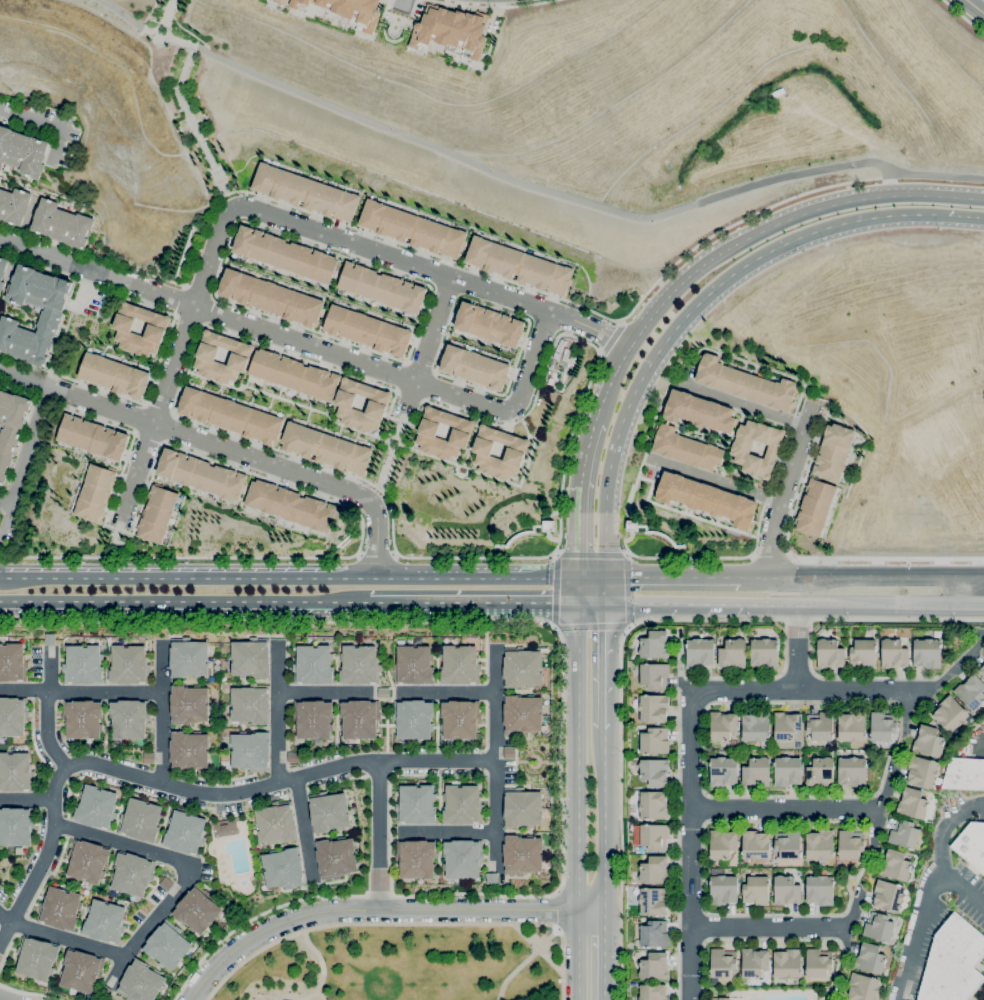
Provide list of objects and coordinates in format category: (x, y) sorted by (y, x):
building: (280, 1)
building: (298, 3)
road: (977, 6)
road: (494, 7)
road: (400, 8)
building: (355, 11)
road: (962, 16)
road: (127, 18)
road: (401, 18)
road: (161, 29)
building: (452, 30)
park: (392, 33)
road: (175, 39)
road: (190, 51)
park: (188, 94)
road: (178, 96)
road: (3, 117)
road: (47, 124)
building: (4, 139)
building: (12, 148)
building: (37, 148)
building: (21, 151)
building: (1, 163)
building: (32, 167)
road: (933, 174)
road: (530, 185)
road: (888, 185)
building: (1, 192)
building: (306, 192)
building: (20, 199)
road: (283, 203)
building: (4, 204)
road: (245, 207)
building: (47, 208)
road: (912, 213)
road: (954, 214)
building: (15, 215)
road: (225, 216)
road: (743, 219)
road: (856, 220)
road: (783, 221)
building: (41, 224)
building: (57, 224)
building: (67, 228)
building: (413, 229)
building: (80, 231)
building: (285, 255)
building: (519, 265)
building: (3, 267)
road: (432, 269)
building: (24, 276)
building: (2, 284)
building: (35, 288)
building: (382, 288)
building: (45, 291)
building: (17, 293)
building: (59, 293)
building: (272, 298)
building: (51, 315)
road: (255, 325)
building: (489, 325)
building: (8, 326)
road: (433, 327)
building: (46, 328)
building: (156, 329)
building: (368, 330)
road: (609, 339)
building: (16, 342)
building: (5, 343)
road: (167, 343)
building: (27, 346)
road: (274, 348)
building: (40, 350)
building: (241, 355)
road: (531, 358)
road: (406, 359)
road: (172, 363)
road: (647, 366)
building: (475, 367)
road: (419, 369)
road: (437, 373)
building: (295, 374)
building: (114, 375)
road: (609, 383)
building: (746, 384)
building: (2, 397)
building: (378, 405)
road: (743, 405)
building: (6, 408)
road: (159, 410)
building: (19, 411)
building: (699, 412)
building: (231, 415)
building: (10, 432)
building: (461, 433)
building: (93, 438)
building: (7, 446)
road: (221, 447)
building: (326, 448)
building: (687, 449)
building: (740, 452)
building: (833, 452)
building: (516, 453)
road: (23, 462)
building: (4, 466)
road: (640, 466)
building: (200, 475)
road: (712, 478)
road: (785, 489)
road: (800, 490)
building: (95, 493)
road: (144, 495)
road: (579, 499)
building: (706, 499)
road: (5, 502)
building: (290, 505)
building: (815, 507)
road: (684, 513)
building: (157, 514)
road: (630, 517)
road: (546, 525)
building: (531, 531)
road: (559, 532)
building: (649, 532)
park: (530, 537)
road: (756, 537)
park: (644, 538)
road: (591, 553)
road: (358, 555)
road: (395, 555)
road: (376, 556)
road: (772, 556)
road: (178, 557)
road: (898, 558)
road: (288, 575)
traffic signals: (577, 578)
road: (590, 578)
traffic signals: (603, 578)
road: (698, 578)
road: (840, 578)
road: (935, 578)
road: (603, 589)
road: (627, 589)
road: (554, 590)
traffic signals: (603, 601)
road: (686, 601)
road: (461, 602)
traffic signals: (576, 602)
road: (891, 602)
road: (174, 604)
road: (495, 619)
road: (897, 619)
road: (756, 620)
road: (798, 620)
road: (590, 626)
building: (50, 639)
building: (655, 645)
road: (797, 646)
building: (700, 653)
building: (765, 653)
building: (927, 653)
building: (733, 654)
building: (830, 654)
building: (863, 654)
building: (894, 654)
building: (189, 658)
building: (251, 658)
building: (13, 663)
building: (129, 664)
road: (602, 664)
building: (83, 665)
building: (313, 665)
building: (359, 665)
building: (414, 665)
building: (460, 665)
building: (522, 667)
building: (982, 671)
building: (655, 676)
road: (24, 690)
road: (105, 692)
building: (971, 692)
road: (328, 693)
building: (384, 693)
road: (388, 693)
road: (447, 694)
road: (700, 696)
building: (189, 704)
building: (250, 705)
road: (494, 706)
building: (654, 708)
road: (47, 710)
road: (907, 711)
building: (523, 713)
road: (161, 714)
road: (278, 714)
building: (950, 714)
building: (12, 717)
building: (82, 718)
building: (129, 719)
building: (314, 719)
building: (360, 719)
building: (414, 719)
building: (461, 719)
building: (723, 726)
building: (787, 726)
building: (821, 726)
building: (883, 726)
building: (756, 727)
building: (852, 727)
building: (655, 741)
building: (929, 741)
building: (765, 745)
building: (189, 751)
building: (251, 751)
building: (294, 757)
building: (149, 758)
road: (526, 763)
building: (788, 771)
building: (852, 771)
building: (15, 772)
building: (655, 772)
building: (723, 772)
building: (757, 772)
building: (821, 772)
building: (922, 772)
building: (964, 774)
road: (884, 787)
road: (185, 788)
road: (576, 788)
road: (26, 800)
building: (416, 804)
building: (913, 804)
building: (463, 805)
building: (654, 805)
building: (97, 808)
building: (522, 808)
road: (784, 808)
building: (329, 811)
road: (492, 815)
road: (604, 819)
building: (141, 820)
building: (276, 823)
road: (302, 825)
building: (15, 826)
building: (225, 828)
road: (875, 830)
road: (435, 831)
building: (186, 833)
building: (904, 834)
road: (378, 835)
building: (651, 836)
building: (722, 844)
building: (788, 844)
building: (851, 844)
building: (756, 845)
building: (820, 845)
building: (971, 845)
building: (632, 850)
road: (945, 851)
building: (522, 855)
building: (336, 858)
building: (416, 858)
building: (462, 859)
building: (87, 861)
building: (896, 866)
building: (283, 869)
building: (655, 870)
building: (132, 873)
building: (822, 873)
building: (492, 878)
road: (496, 882)
building: (166, 884)
building: (723, 888)
building: (756, 890)
building: (787, 890)
building: (820, 890)
road: (318, 892)
road: (380, 892)
building: (888, 895)
building: (654, 901)
road: (166, 902)
building: (60, 909)
building: (197, 909)
road: (381, 909)
road: (553, 910)
road: (5, 918)
road: (256, 918)
building: (105, 921)
road: (851, 923)
road: (396, 924)
road: (770, 927)
building: (879, 927)
road: (555, 929)
road: (916, 932)
building: (655, 934)
road: (547, 939)
building: (167, 944)
road: (604, 956)
road: (319, 957)
building: (36, 958)
building: (870, 958)
building: (723, 962)
building: (953, 962)
building: (754, 963)
building: (818, 963)
building: (787, 964)
park: (404, 966)
building: (654, 967)
road: (113, 968)
road: (840, 970)
building: (81, 971)
road: (514, 971)
building: (140, 982)
building: (862, 987)
building: (105, 992)
building: (653, 992)
road: (26, 993)
road: (832, 995)
road: (2, 999)
building: (720, 999)

